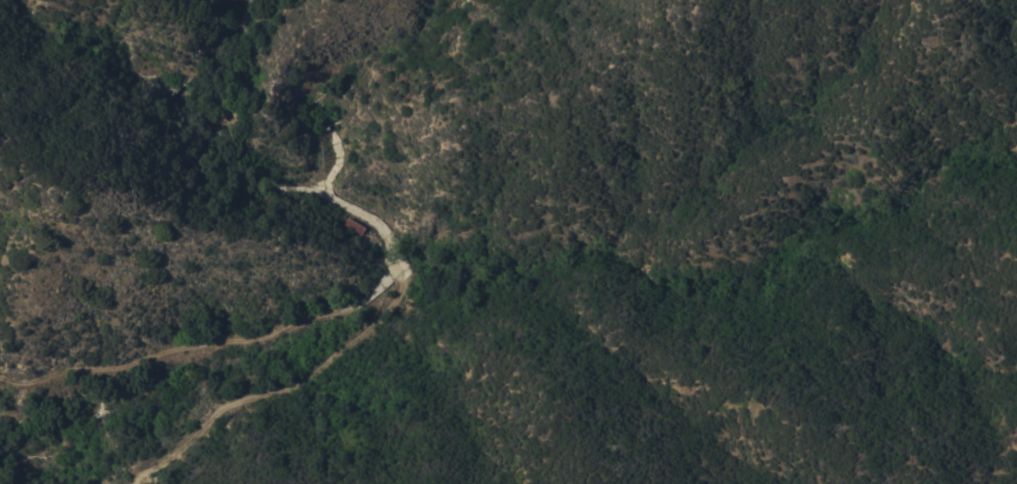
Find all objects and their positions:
road: (336, 165)
road: (378, 291)
road: (358, 330)
road: (170, 350)

